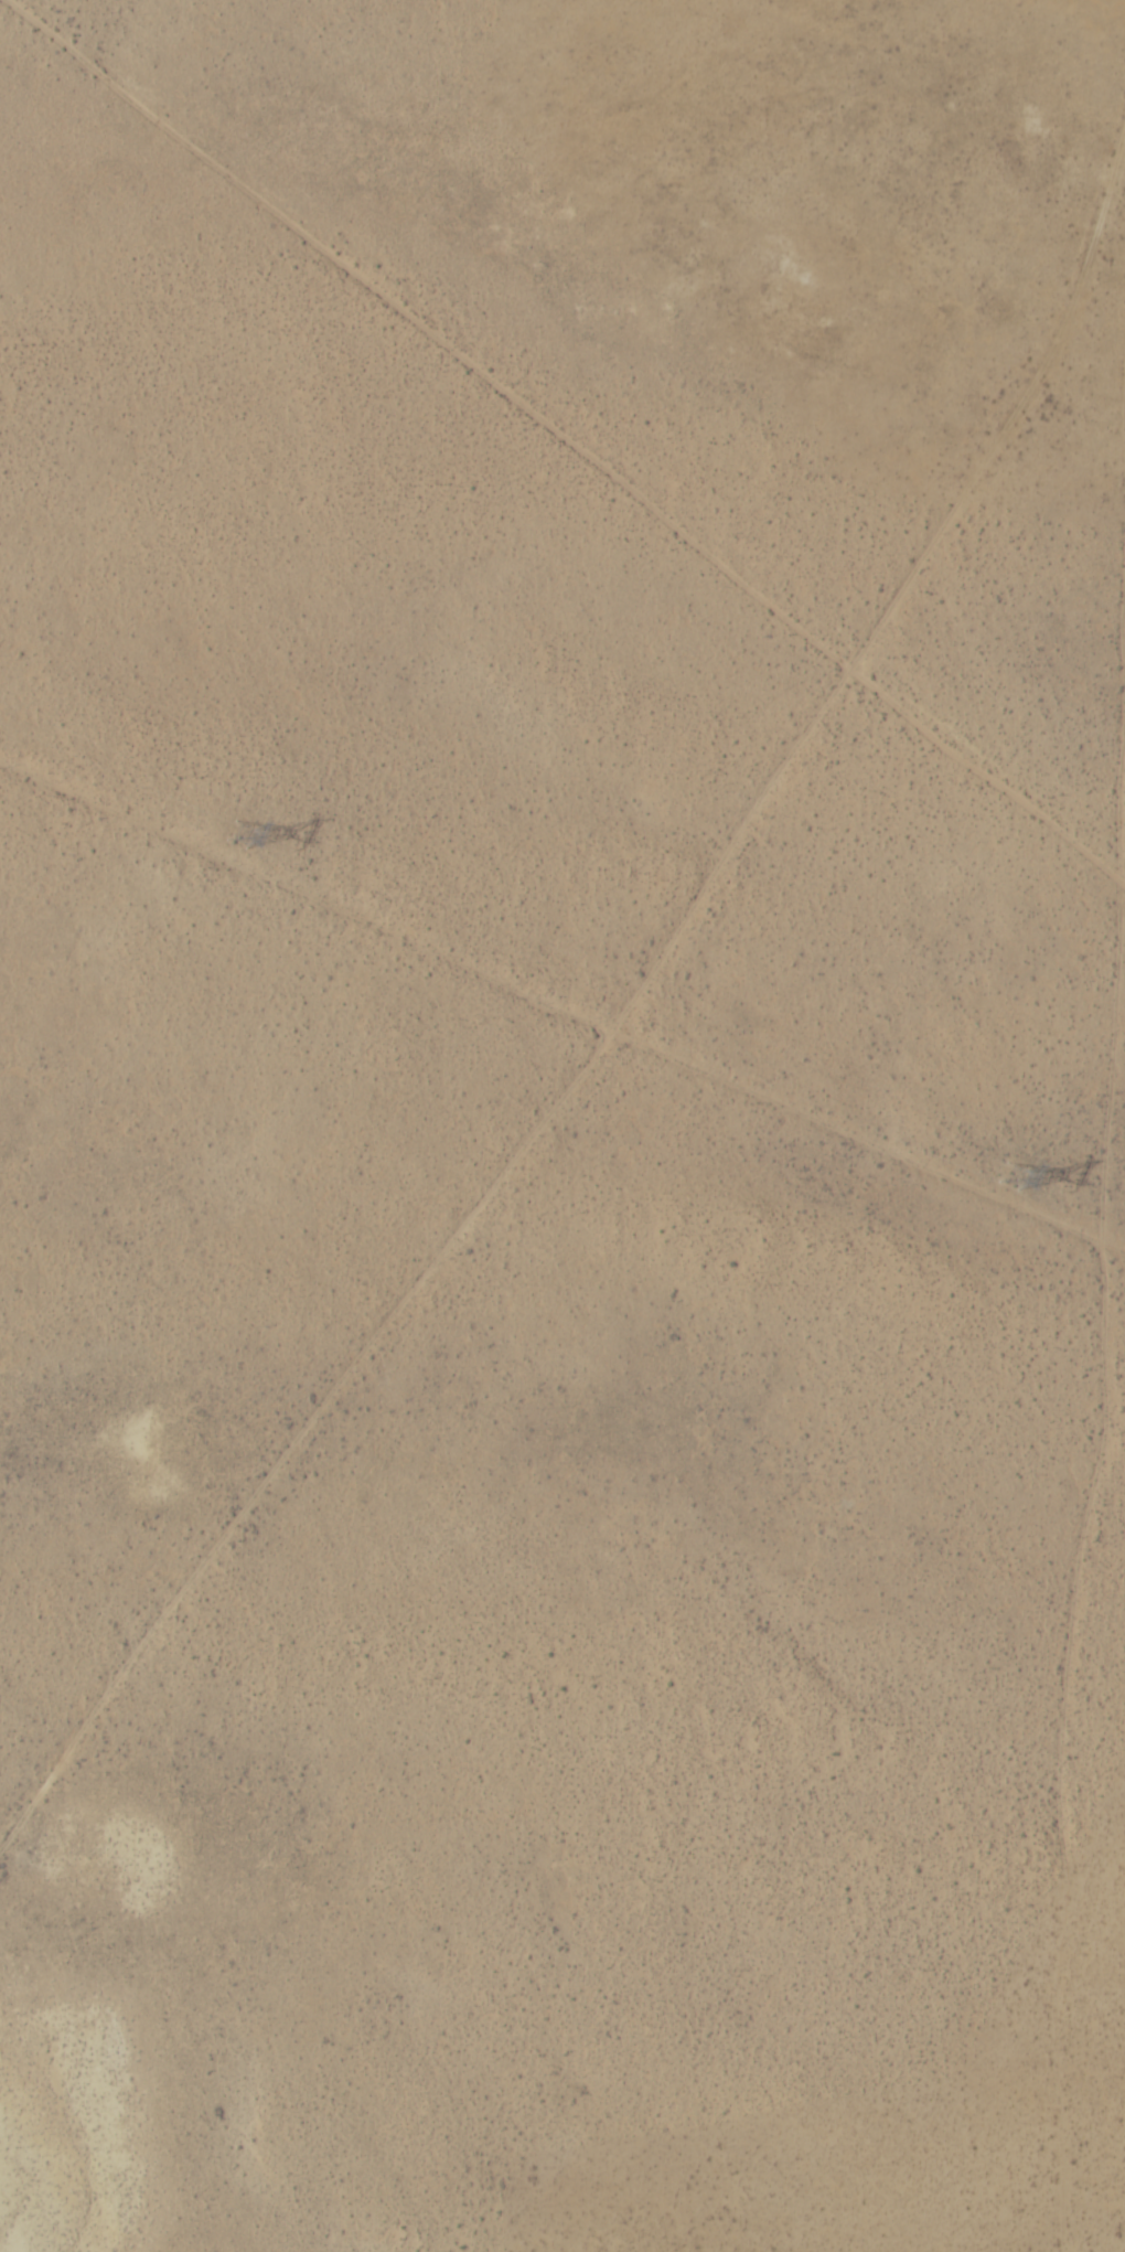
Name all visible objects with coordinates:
power tower: (246, 833)
road: (613, 885)
power tower: (1018, 1178)
road: (1107, 1433)

